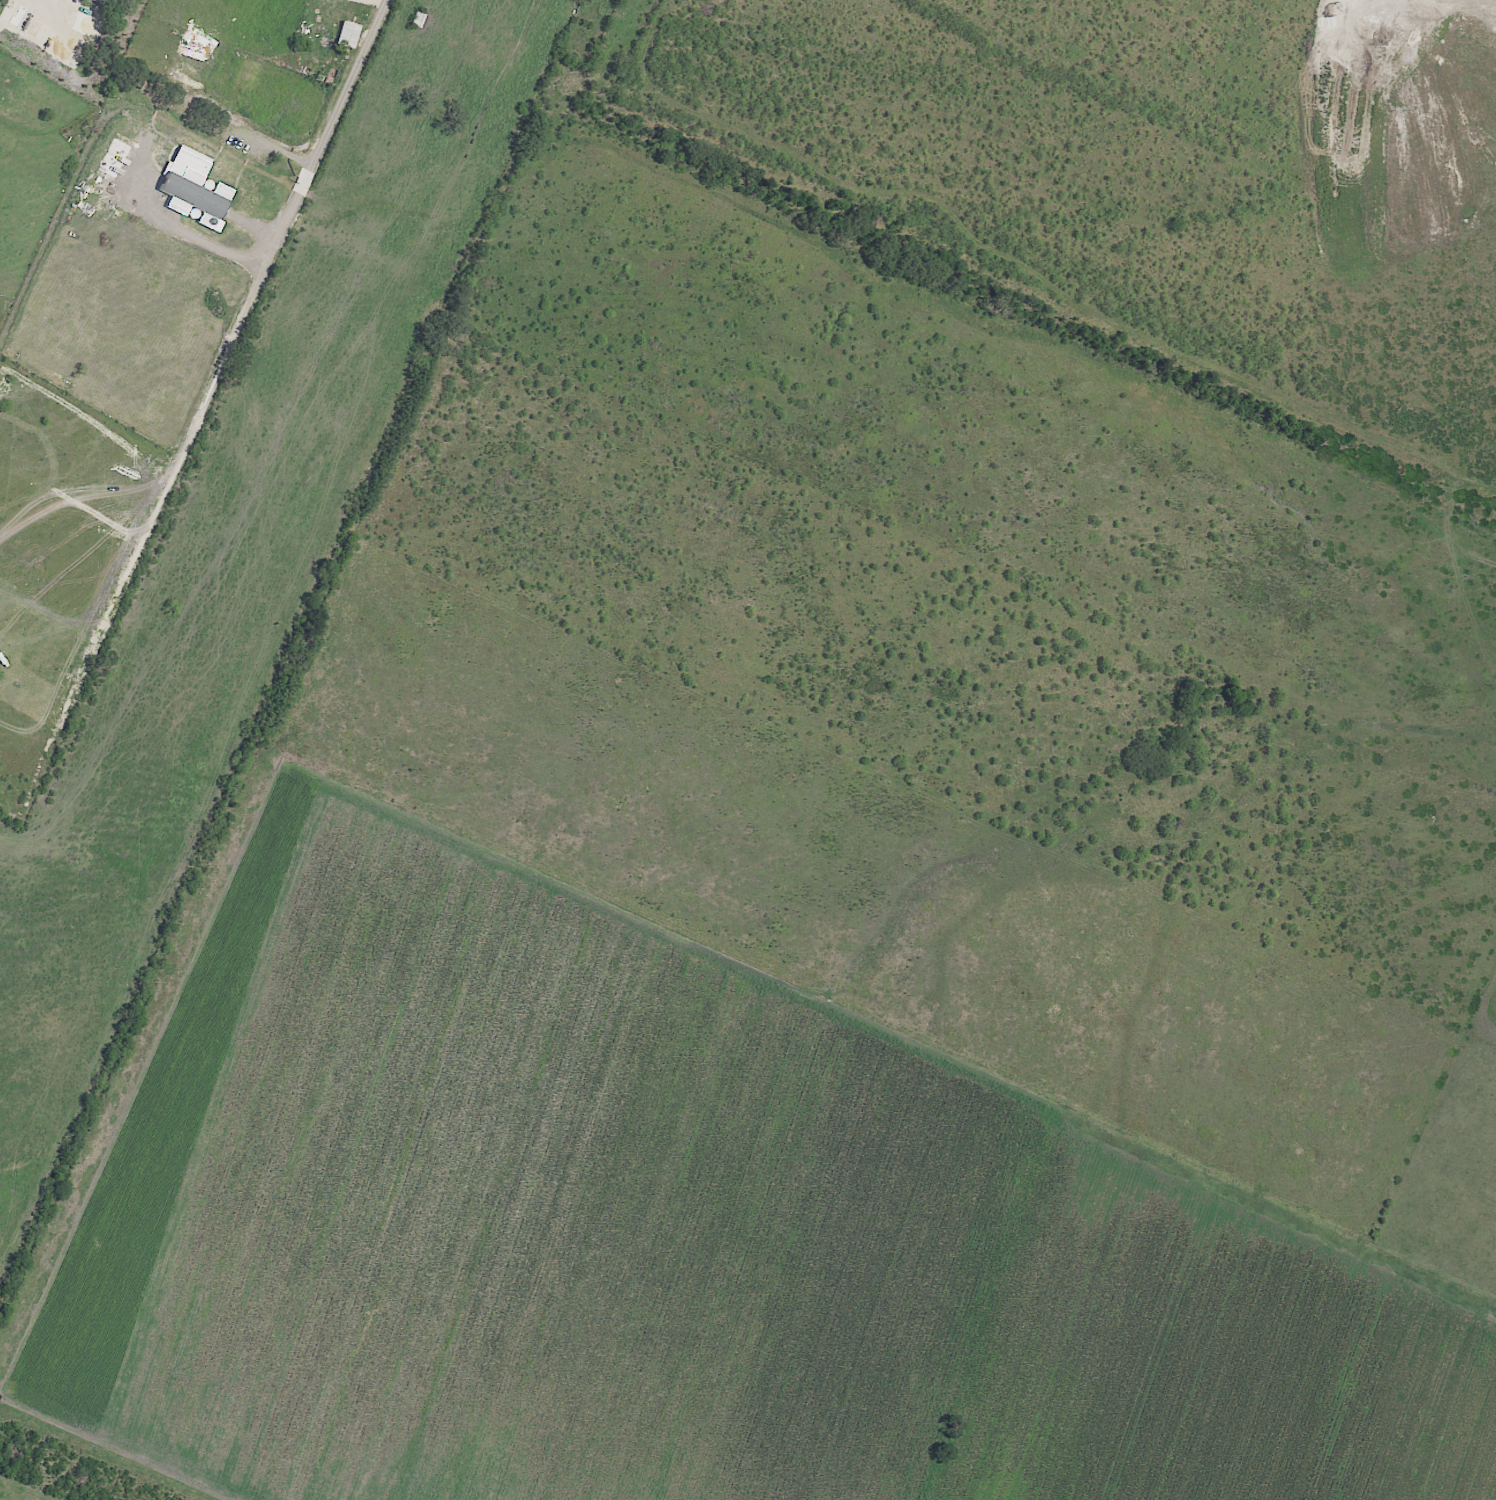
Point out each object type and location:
building: (95, 1)
building: (100, 1)
road: (376, 5)
road: (69, 8)
building: (168, 74)
road: (1320, 77)
road: (1481, 152)
road: (328, 156)
road: (950, 171)
road: (259, 261)
road: (228, 381)
road: (1336, 382)
road: (594, 399)
road: (1068, 405)
road: (1150, 458)
road: (809, 481)
road: (1019, 584)
road: (1384, 645)
road: (818, 666)
road: (628, 802)

